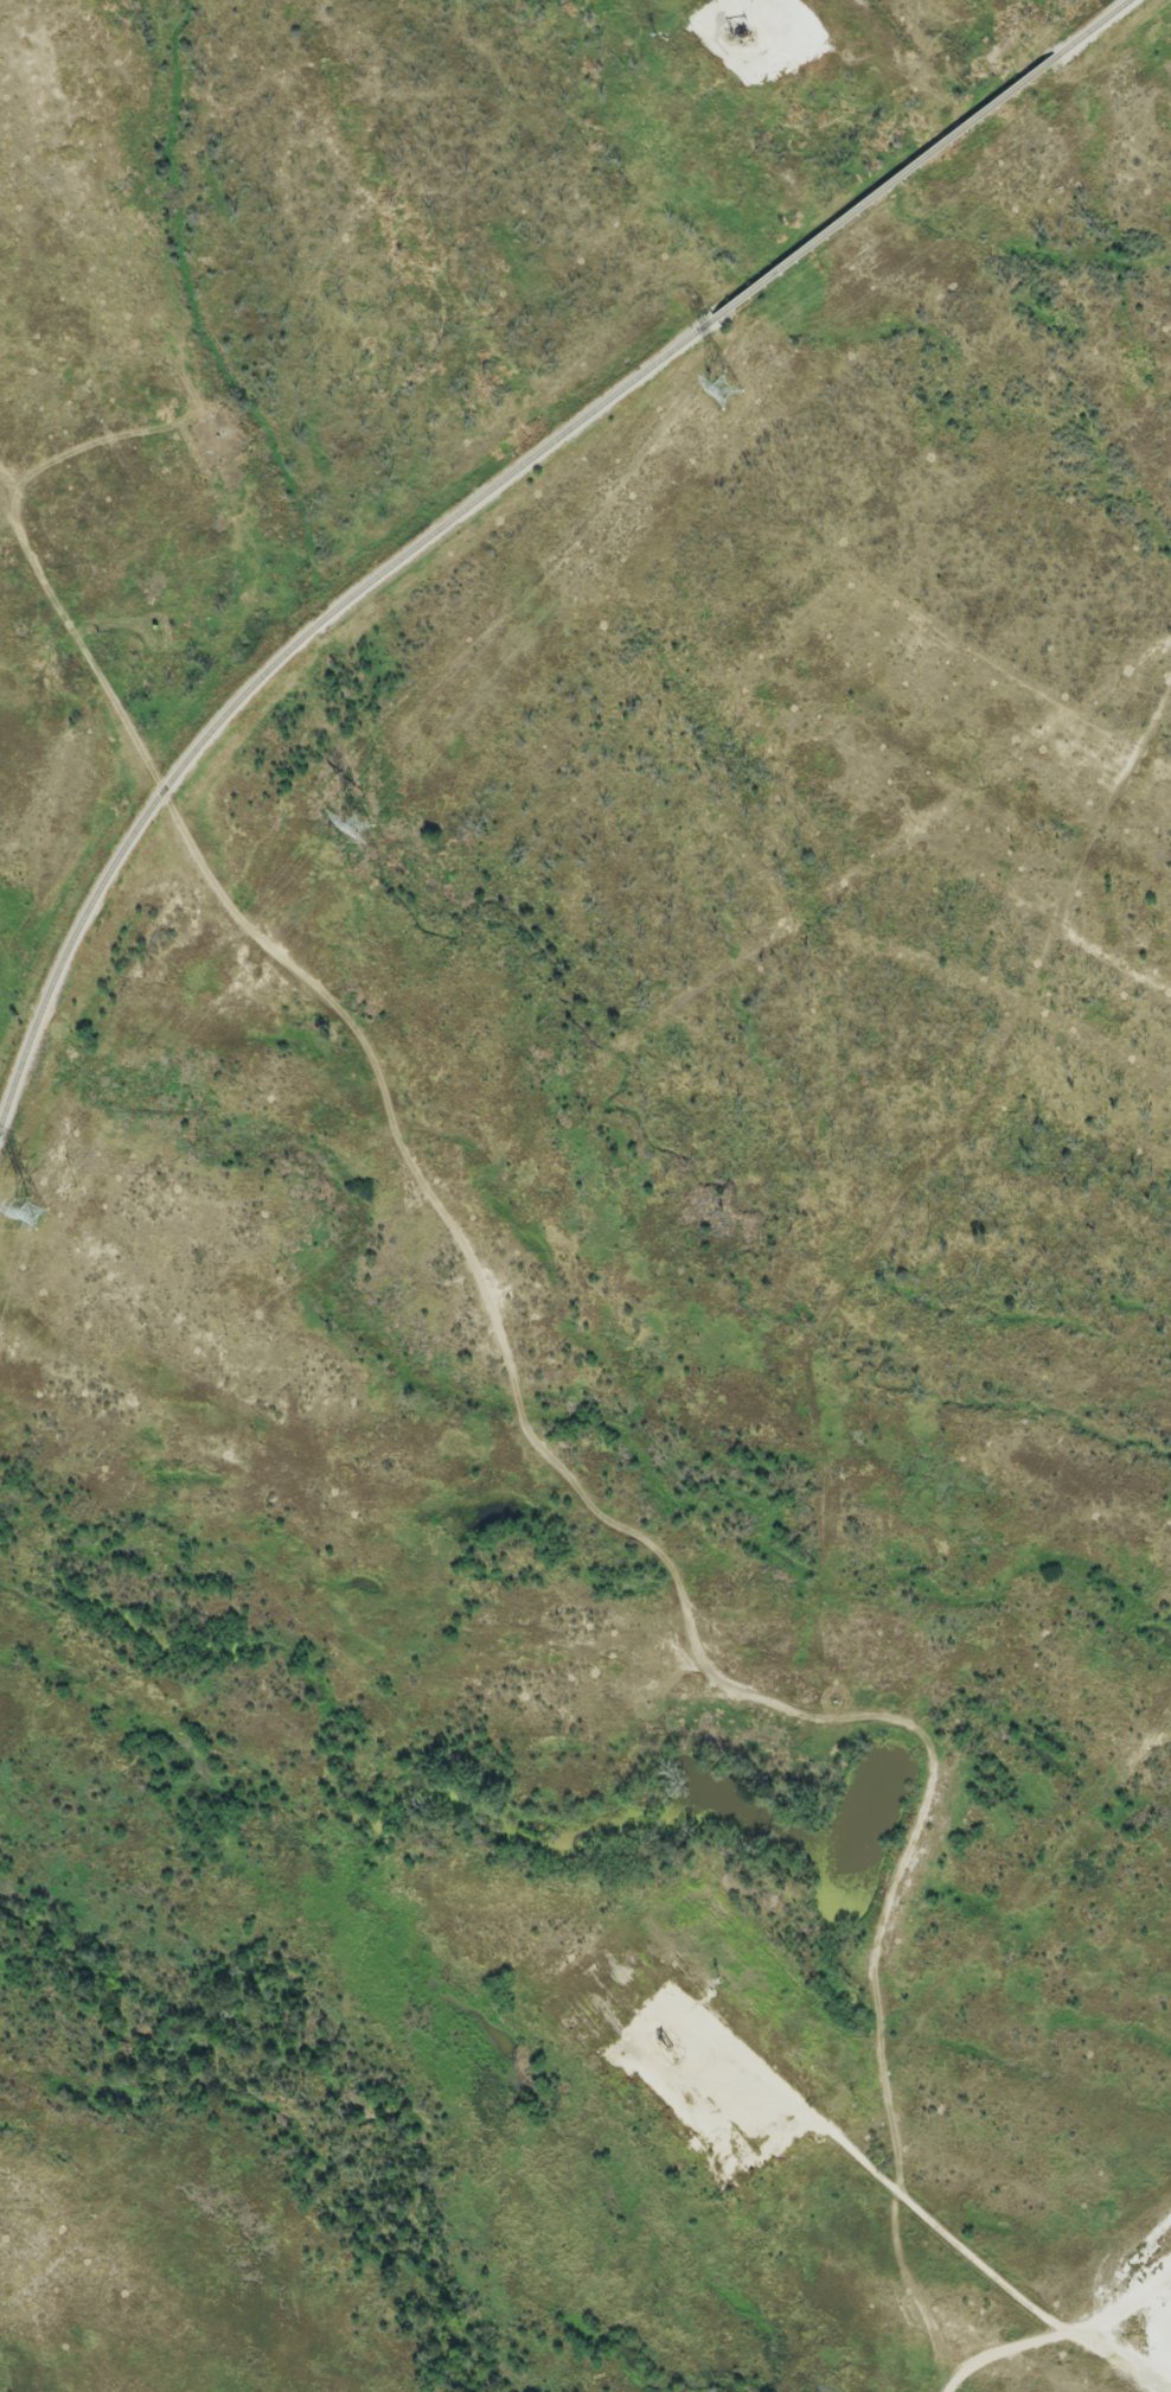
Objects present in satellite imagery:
railway: (1093, 30)
railway: (885, 187)
power tower: (723, 393)
railway: (277, 661)
power tower: (356, 829)
power tower: (32, 1214)
road: (958, 2249)

